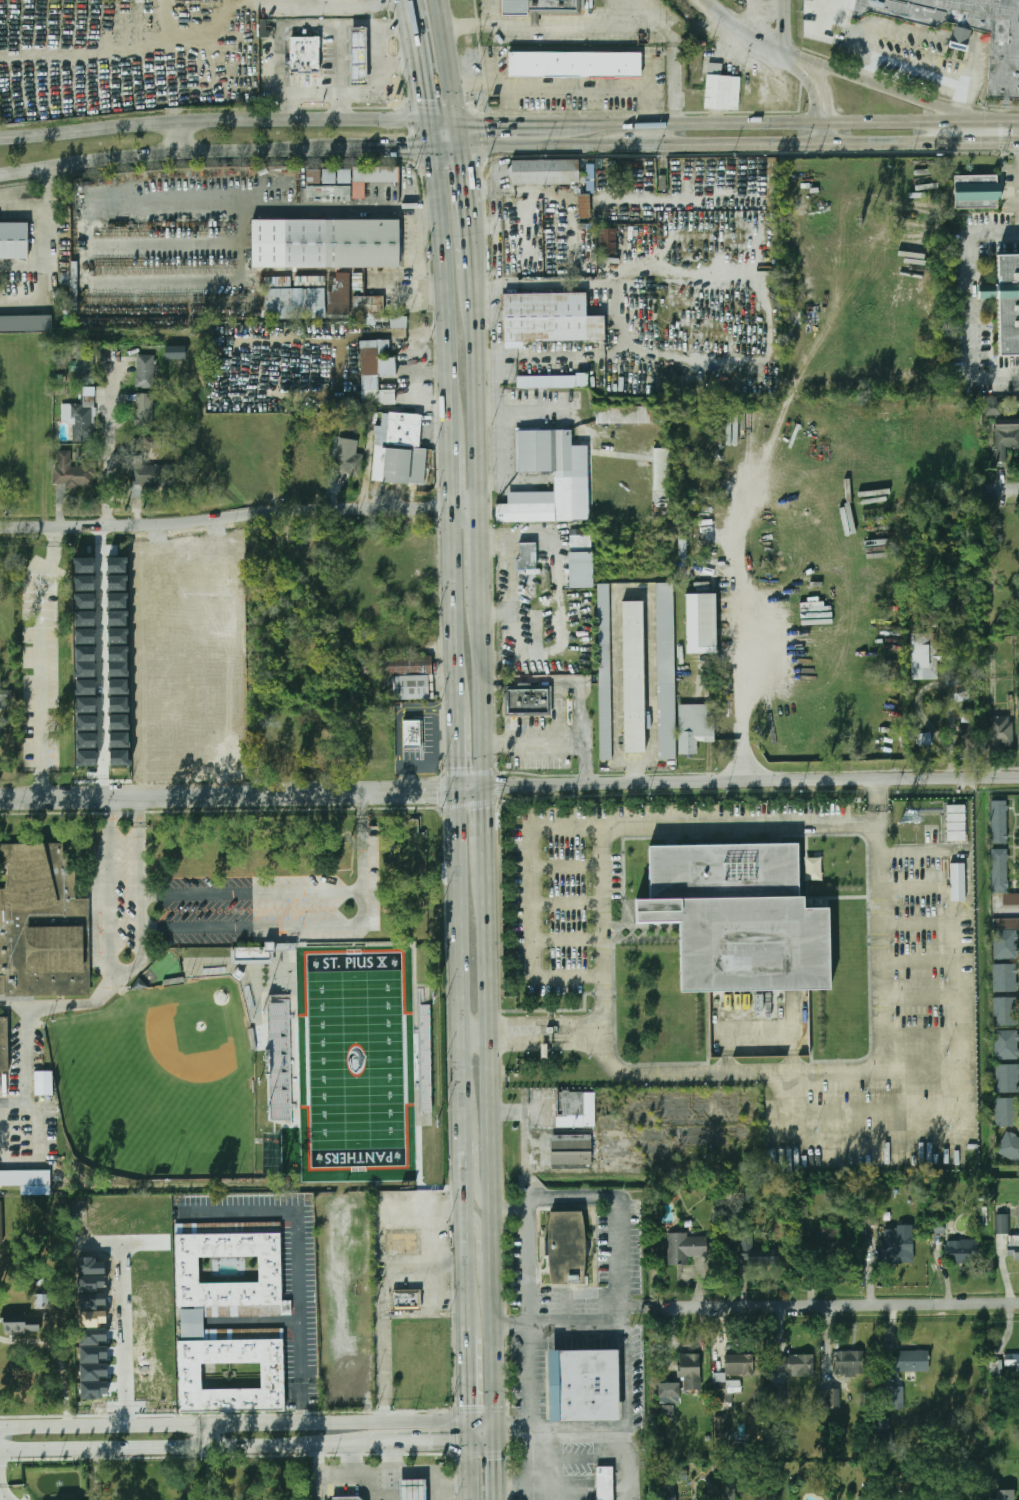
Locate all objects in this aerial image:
road: (411, 5)
building: (534, 6)
road: (714, 11)
road: (623, 13)
road: (822, 15)
road: (757, 20)
road: (535, 21)
road: (525, 23)
road: (544, 23)
road: (655, 26)
road: (482, 27)
building: (263, 28)
road: (535, 29)
road: (783, 30)
road: (909, 31)
road: (337, 32)
road: (756, 36)
road: (862, 36)
street lamp: (885, 39)
building: (961, 39)
building: (230, 40)
road: (960, 43)
road: (972, 47)
street lamp: (924, 51)
road: (790, 53)
building: (304, 54)
building: (357, 56)
gas station: (357, 56)
road: (278, 61)
road: (420, 64)
building: (1003, 64)
building: (575, 65)
road: (376, 66)
road: (911, 66)
road: (970, 66)
road: (867, 67)
road: (793, 69)
road: (450, 71)
road: (876, 86)
road: (564, 89)
building: (721, 89)
road: (827, 91)
road: (369, 92)
road: (962, 97)
traffic signals: (425, 98)
road: (290, 106)
road: (958, 115)
road: (978, 115)
road: (214, 118)
traffic signals: (483, 119)
road: (514, 119)
road: (778, 119)
road: (977, 119)
traffic signals: (998, 119)
road: (1008, 119)
road: (957, 129)
road: (661, 130)
road: (173, 134)
road: (825, 138)
road: (892, 138)
road: (741, 139)
road: (987, 139)
traffic signals: (999, 139)
road: (631, 141)
road: (530, 142)
road: (377, 143)
traffic signals: (410, 143)
road: (147, 153)
traffic signals: (463, 171)
building: (546, 172)
building: (329, 177)
building: (314, 178)
building: (345, 178)
road: (463, 178)
building: (371, 179)
road: (52, 181)
building: (976, 193)
building: (329, 195)
building: (584, 205)
road: (288, 209)
building: (607, 240)
building: (13, 241)
building: (325, 243)
road: (470, 243)
road: (416, 260)
road: (42, 269)
road: (443, 283)
road: (968, 301)
building: (295, 303)
building: (1007, 304)
building: (368, 306)
building: (548, 317)
building: (398, 322)
building: (26, 323)
building: (175, 352)
building: (85, 369)
building: (145, 371)
building: (376, 373)
building: (546, 381)
road: (475, 390)
building: (992, 406)
building: (144, 410)
building: (632, 415)
building: (81, 418)
building: (152, 441)
building: (1004, 445)
road: (111, 447)
building: (400, 450)
building: (545, 450)
building: (348, 463)
building: (663, 470)
building: (74, 471)
building: (150, 475)
road: (451, 477)
road: (1003, 485)
building: (562, 497)
building: (525, 511)
road: (239, 515)
road: (479, 543)
building: (682, 545)
building: (525, 555)
building: (580, 560)
building: (218, 580)
building: (118, 600)
building: (960, 609)
building: (85, 610)
road: (454, 610)
building: (932, 619)
building: (700, 622)
building: (118, 627)
building: (86, 636)
road: (754, 645)
building: (924, 656)
road: (104, 659)
road: (40, 660)
building: (85, 661)
building: (119, 661)
building: (404, 665)
building: (603, 669)
building: (664, 669)
building: (632, 675)
road: (570, 681)
road: (493, 682)
road: (482, 685)
building: (409, 686)
building: (86, 687)
building: (119, 687)
building: (6, 699)
building: (529, 700)
building: (119, 704)
building: (86, 705)
building: (968, 715)
building: (86, 722)
building: (119, 722)
building: (693, 725)
building: (1018, 731)
building: (1001, 732)
building: (413, 734)
road: (559, 735)
road: (497, 736)
building: (966, 738)
building: (924, 739)
building: (87, 740)
building: (119, 740)
building: (377, 749)
building: (149, 750)
building: (266, 750)
road: (457, 751)
building: (231, 756)
building: (120, 757)
building: (87, 758)
traffic signals: (458, 765)
road: (590, 767)
road: (738, 780)
traffic signals: (506, 787)
road: (383, 791)
traffic signals: (440, 791)
road: (153, 794)
road: (876, 799)
traffic signals: (485, 809)
road: (361, 811)
road: (109, 817)
road: (138, 817)
road: (704, 822)
building: (999, 822)
building: (956, 823)
road: (485, 826)
road: (914, 853)
road: (565, 867)
building: (814, 869)
road: (361, 876)
building: (1002, 877)
road: (915, 887)
road: (250, 891)
road: (532, 900)
flagpole: (622, 901)
road: (565, 903)
flagpole: (622, 909)
road: (107, 910)
road: (139, 910)
building: (742, 916)
flagpole: (622, 918)
road: (599, 921)
building: (41, 922)
road: (916, 924)
road: (249, 926)
road: (566, 939)
building: (1006, 939)
road: (880, 944)
building: (253, 955)
road: (917, 960)
road: (566, 975)
building: (1005, 995)
road: (954, 997)
road: (917, 998)
road: (543, 1020)
road: (759, 1024)
building: (551, 1029)
road: (601, 1029)
road: (476, 1032)
road: (918, 1034)
road: (544, 1041)
building: (3, 1044)
building: (1006, 1045)
stadium: (348, 1055)
park: (356, 1057)
building: (280, 1061)
road: (463, 1062)
road: (769, 1071)
building: (1011, 1075)
park: (162, 1081)
building: (42, 1083)
road: (26, 1085)
road: (790, 1106)
building: (576, 1109)
road: (874, 1110)
building: (1003, 1111)
road: (490, 1140)
road: (875, 1142)
building: (1009, 1146)
building: (572, 1150)
road: (476, 1169)
building: (28, 1181)
road: (508, 1206)
building: (872, 1218)
building: (0, 1222)
building: (1003, 1224)
building: (936, 1226)
building: (898, 1242)
building: (403, 1245)
building: (565, 1246)
road: (479, 1247)
building: (686, 1247)
building: (1013, 1250)
building: (962, 1251)
building: (763, 1255)
road: (448, 1258)
building: (90, 1266)
building: (274, 1269)
building: (91, 1283)
building: (407, 1297)
road: (448, 1297)
building: (42, 1300)
building: (91, 1300)
road: (841, 1303)
road: (624, 1308)
road: (304, 1309)
road: (421, 1313)
building: (91, 1318)
road: (526, 1318)
building: (20, 1321)
building: (190, 1322)
road: (559, 1323)
building: (92, 1336)
road: (125, 1338)
building: (92, 1353)
road: (60, 1358)
building: (908, 1361)
building: (849, 1363)
building: (1012, 1363)
building: (739, 1365)
building: (996, 1367)
building: (792, 1370)
building: (93, 1371)
building: (691, 1373)
building: (276, 1375)
road: (467, 1376)
building: (580, 1383)
building: (93, 1389)
building: (668, 1390)
building: (723, 1393)
building: (831, 1398)
building: (894, 1398)
traffic signals: (468, 1404)
road: (482, 1417)
road: (510, 1422)
road: (234, 1423)
traffic signals: (511, 1423)
building: (719, 1426)
road: (469, 1428)
road: (495, 1428)
road: (577, 1429)
building: (740, 1433)
road: (510, 1434)
building: (882, 1434)
road: (208, 1435)
road: (482, 1440)
traffic signals: (450, 1441)
road: (410, 1442)
road: (175, 1447)
road: (394, 1458)
traffic signals: (495, 1459)
road: (469, 1470)
road: (495, 1470)
road: (206, 1473)
road: (97, 1474)
road: (402, 1474)
road: (541, 1477)
building: (604, 1483)
road: (386, 1487)
building: (730, 1489)
building: (410, 1490)
gas station: (410, 1490)
road: (4, 1492)
building: (1005, 1494)
road: (440, 1495)
building: (346, 1498)
building: (867, 1498)

